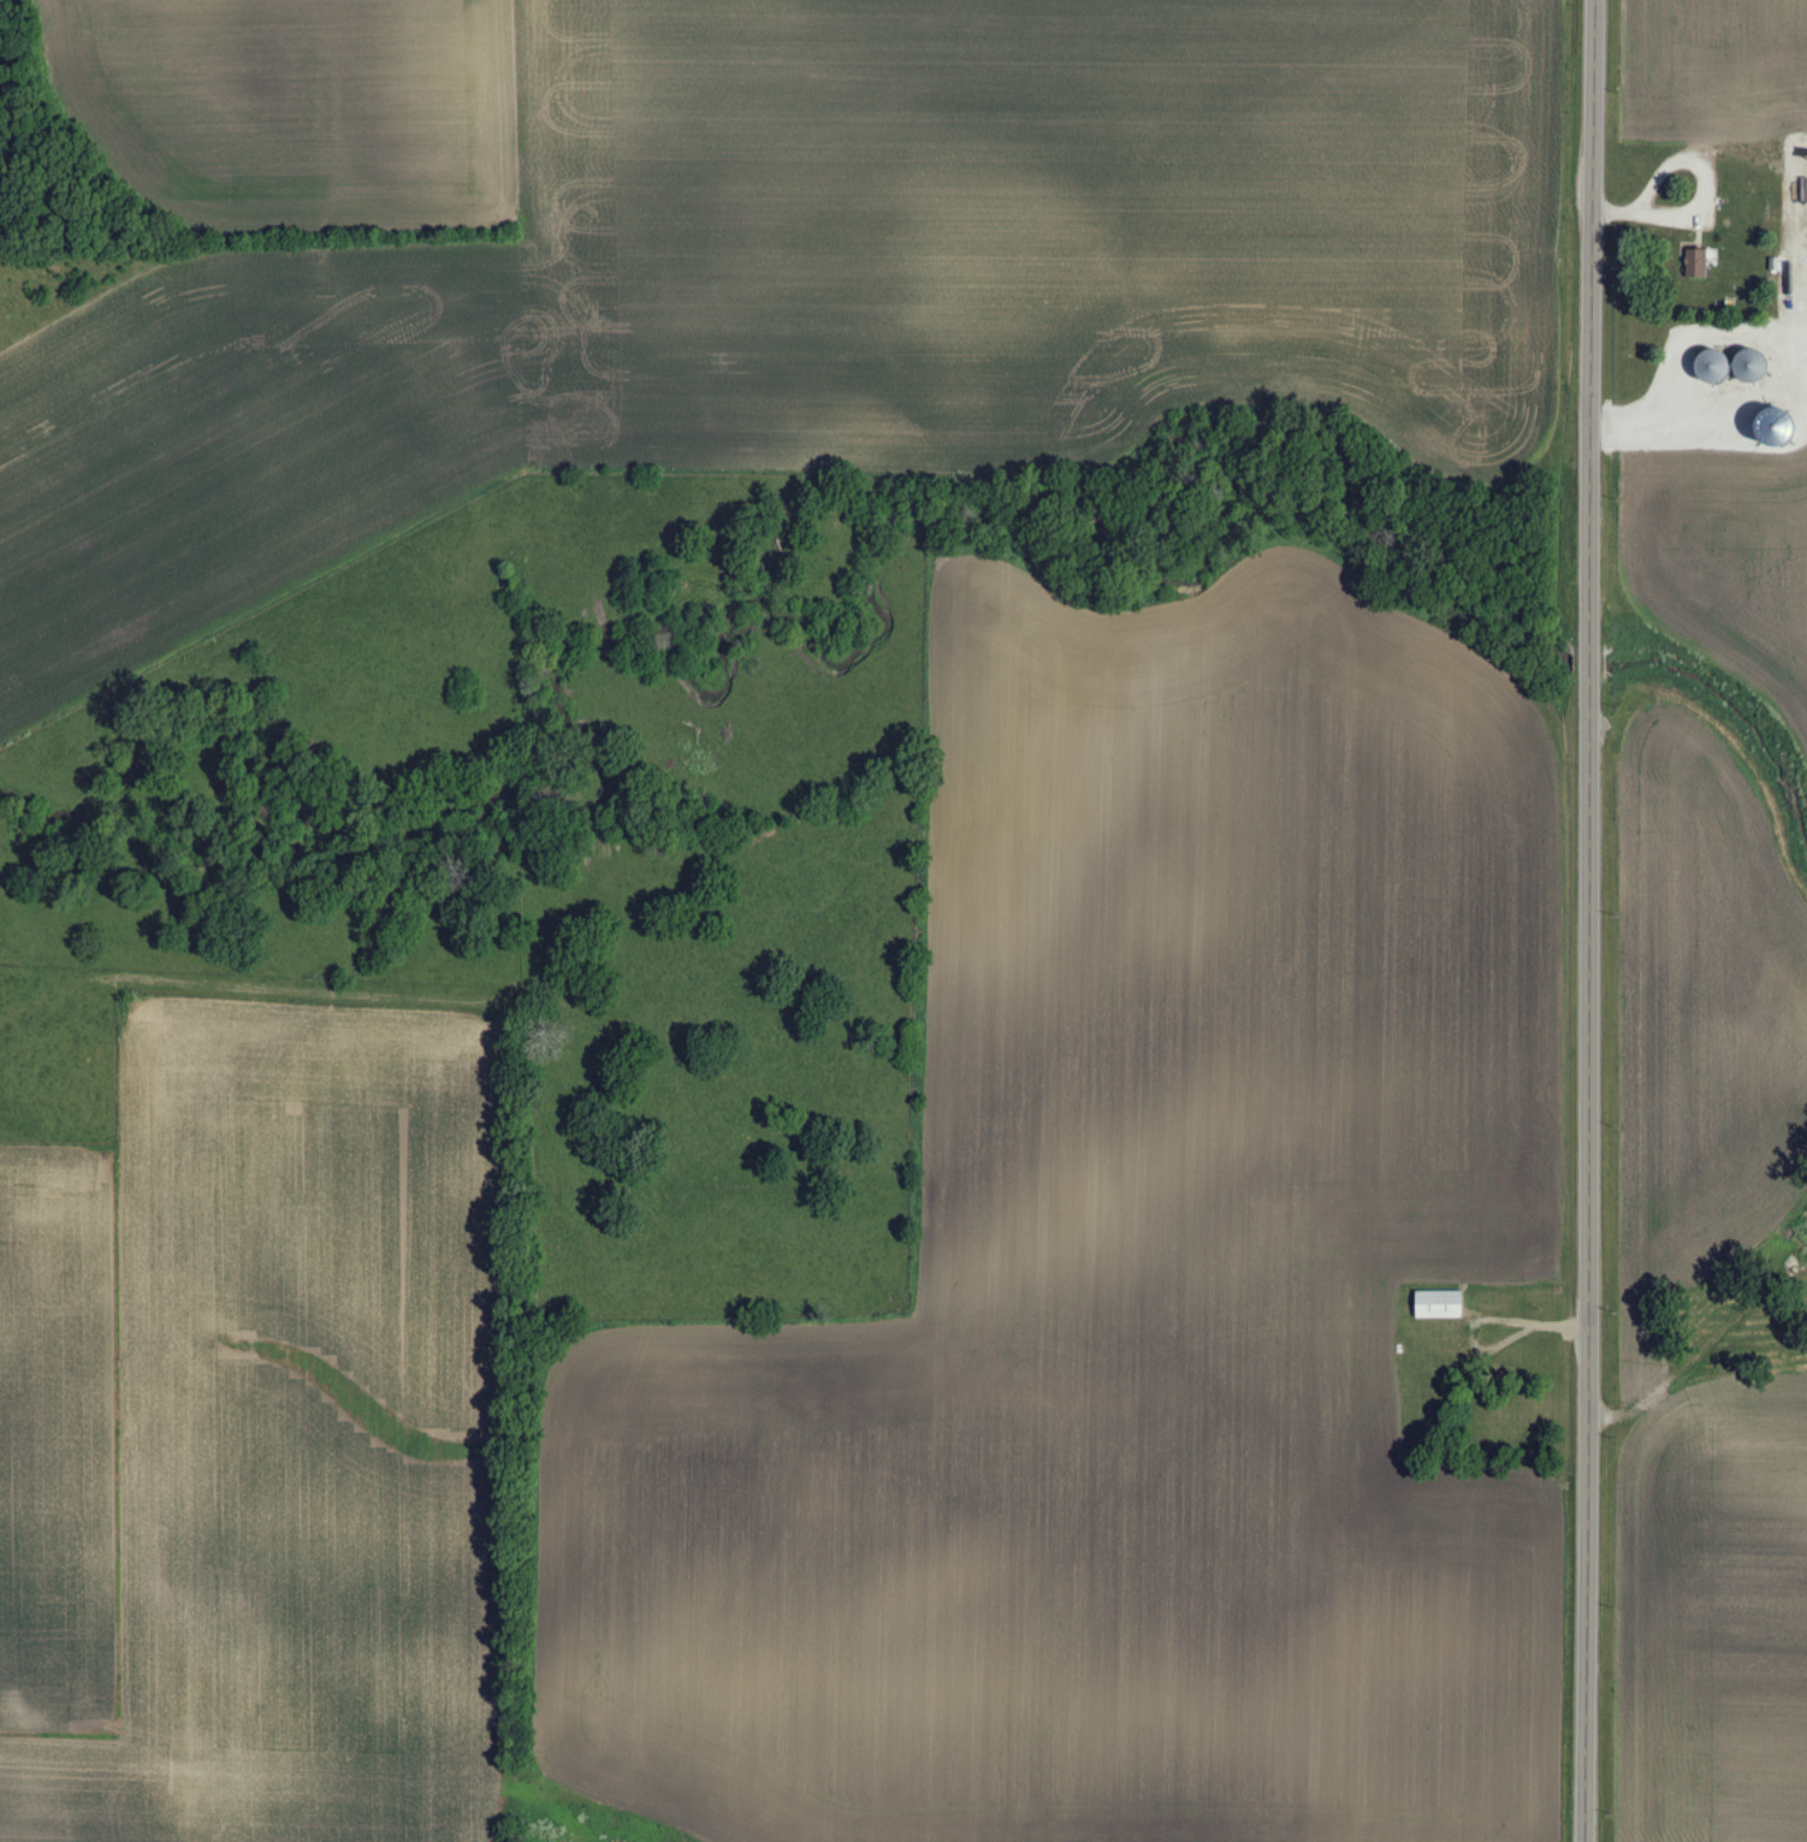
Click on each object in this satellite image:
building: (1701, 263)
road: (1587, 920)
building: (1446, 1305)

